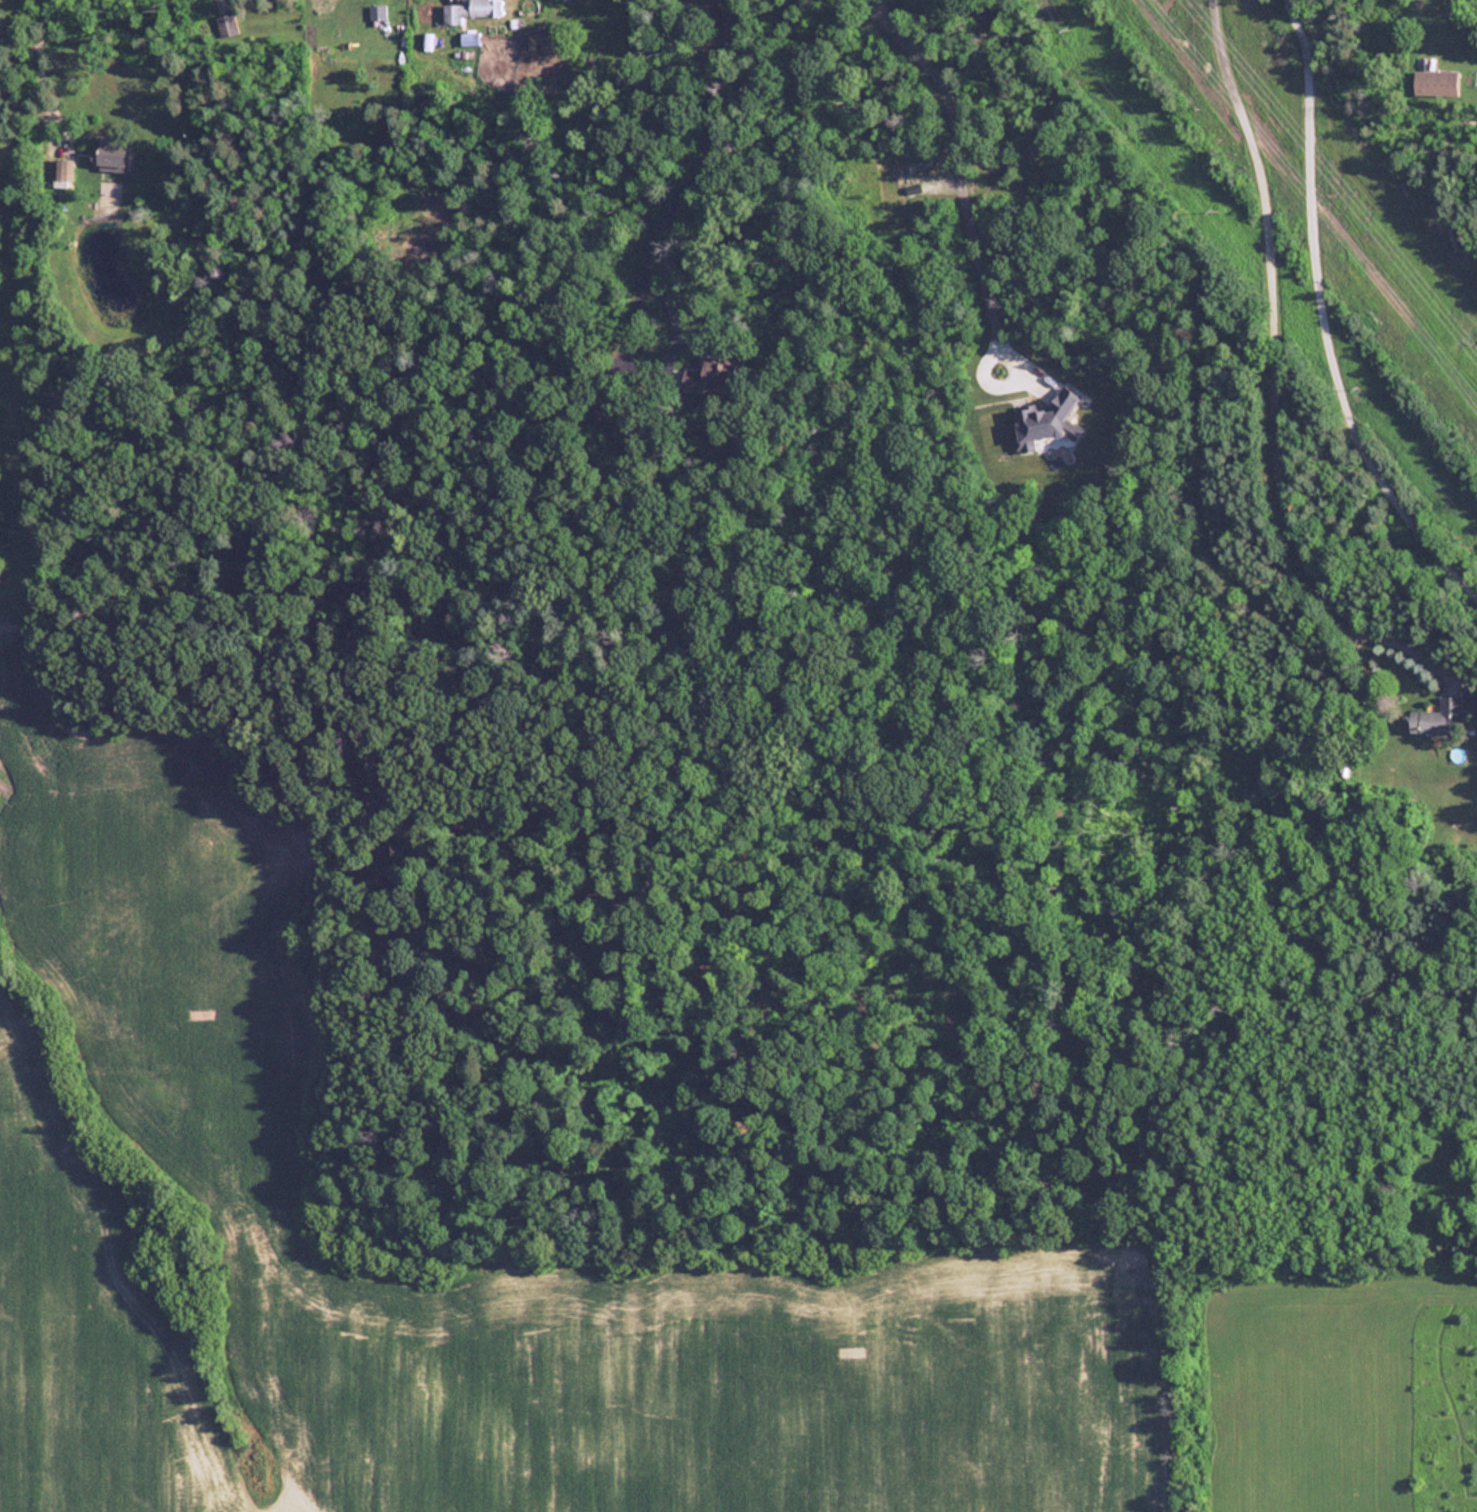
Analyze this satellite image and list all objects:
building: (474, 11)
building: (377, 12)
building: (229, 27)
building: (469, 39)
road: (37, 77)
building: (1441, 85)
building: (117, 157)
road: (955, 163)
building: (60, 172)
road: (698, 174)
road: (1321, 321)
road: (1271, 375)
building: (715, 377)
road: (1005, 384)
building: (605, 410)
building: (1051, 424)
building: (1440, 719)

